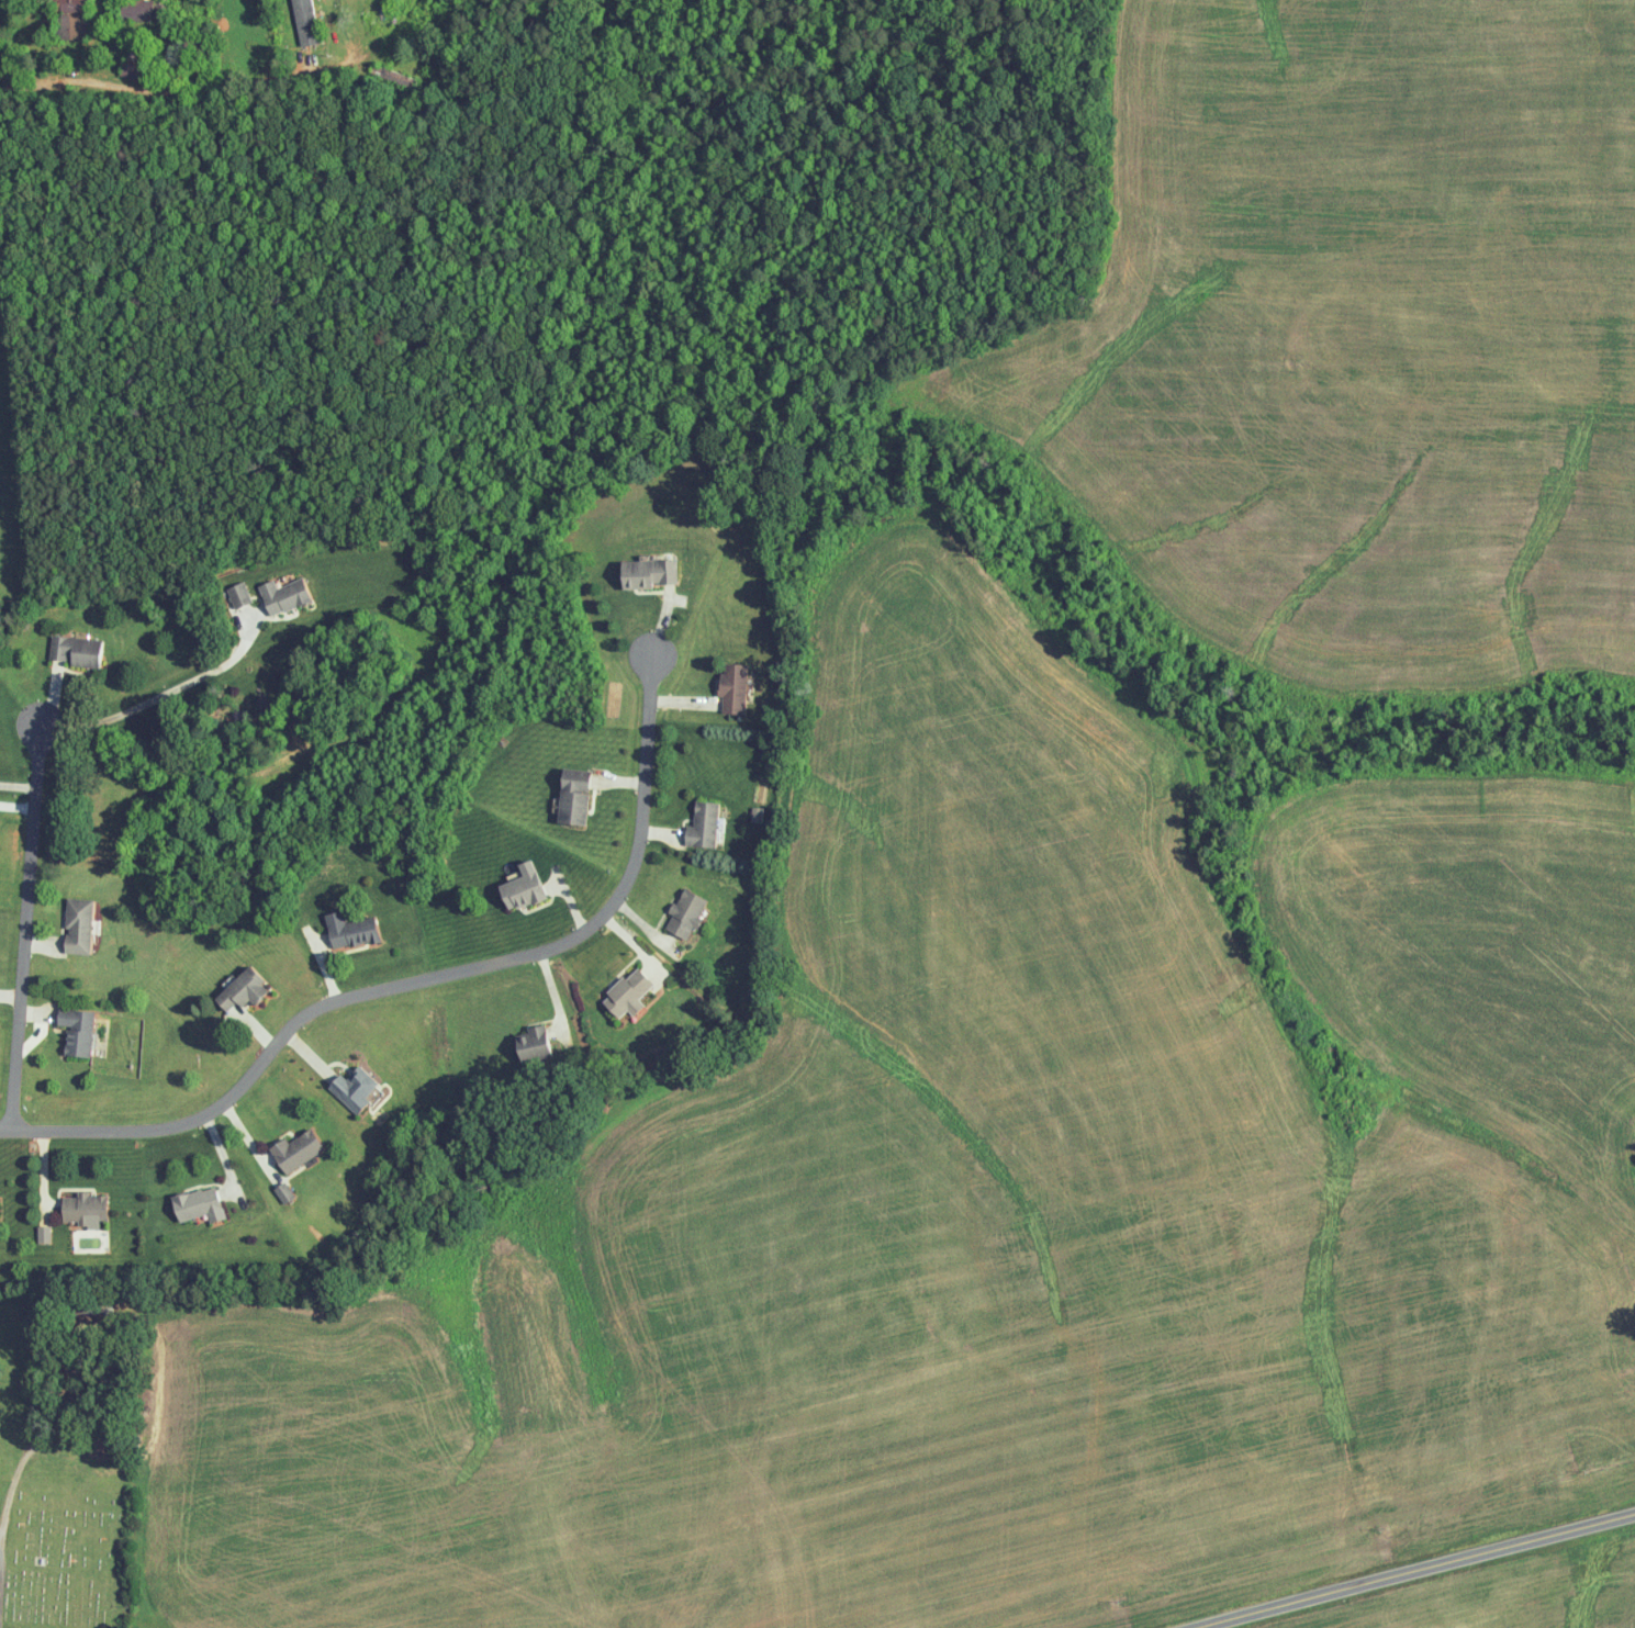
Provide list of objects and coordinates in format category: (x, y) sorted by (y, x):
building: (74, 15)
building: (304, 21)
road: (216, 90)
building: (645, 573)
building: (238, 594)
building: (281, 595)
building: (74, 650)
building: (730, 687)
road: (158, 694)
road: (16, 785)
building: (570, 797)
building: (701, 826)
building: (517, 888)
building: (682, 914)
building: (78, 925)
building: (346, 930)
road: (23, 933)
road: (416, 980)
building: (239, 991)
building: (624, 993)
building: (75, 1033)
building: (540, 1045)
building: (352, 1087)
building: (293, 1150)
building: (194, 1204)
building: (83, 1210)
road: (1423, 1572)

